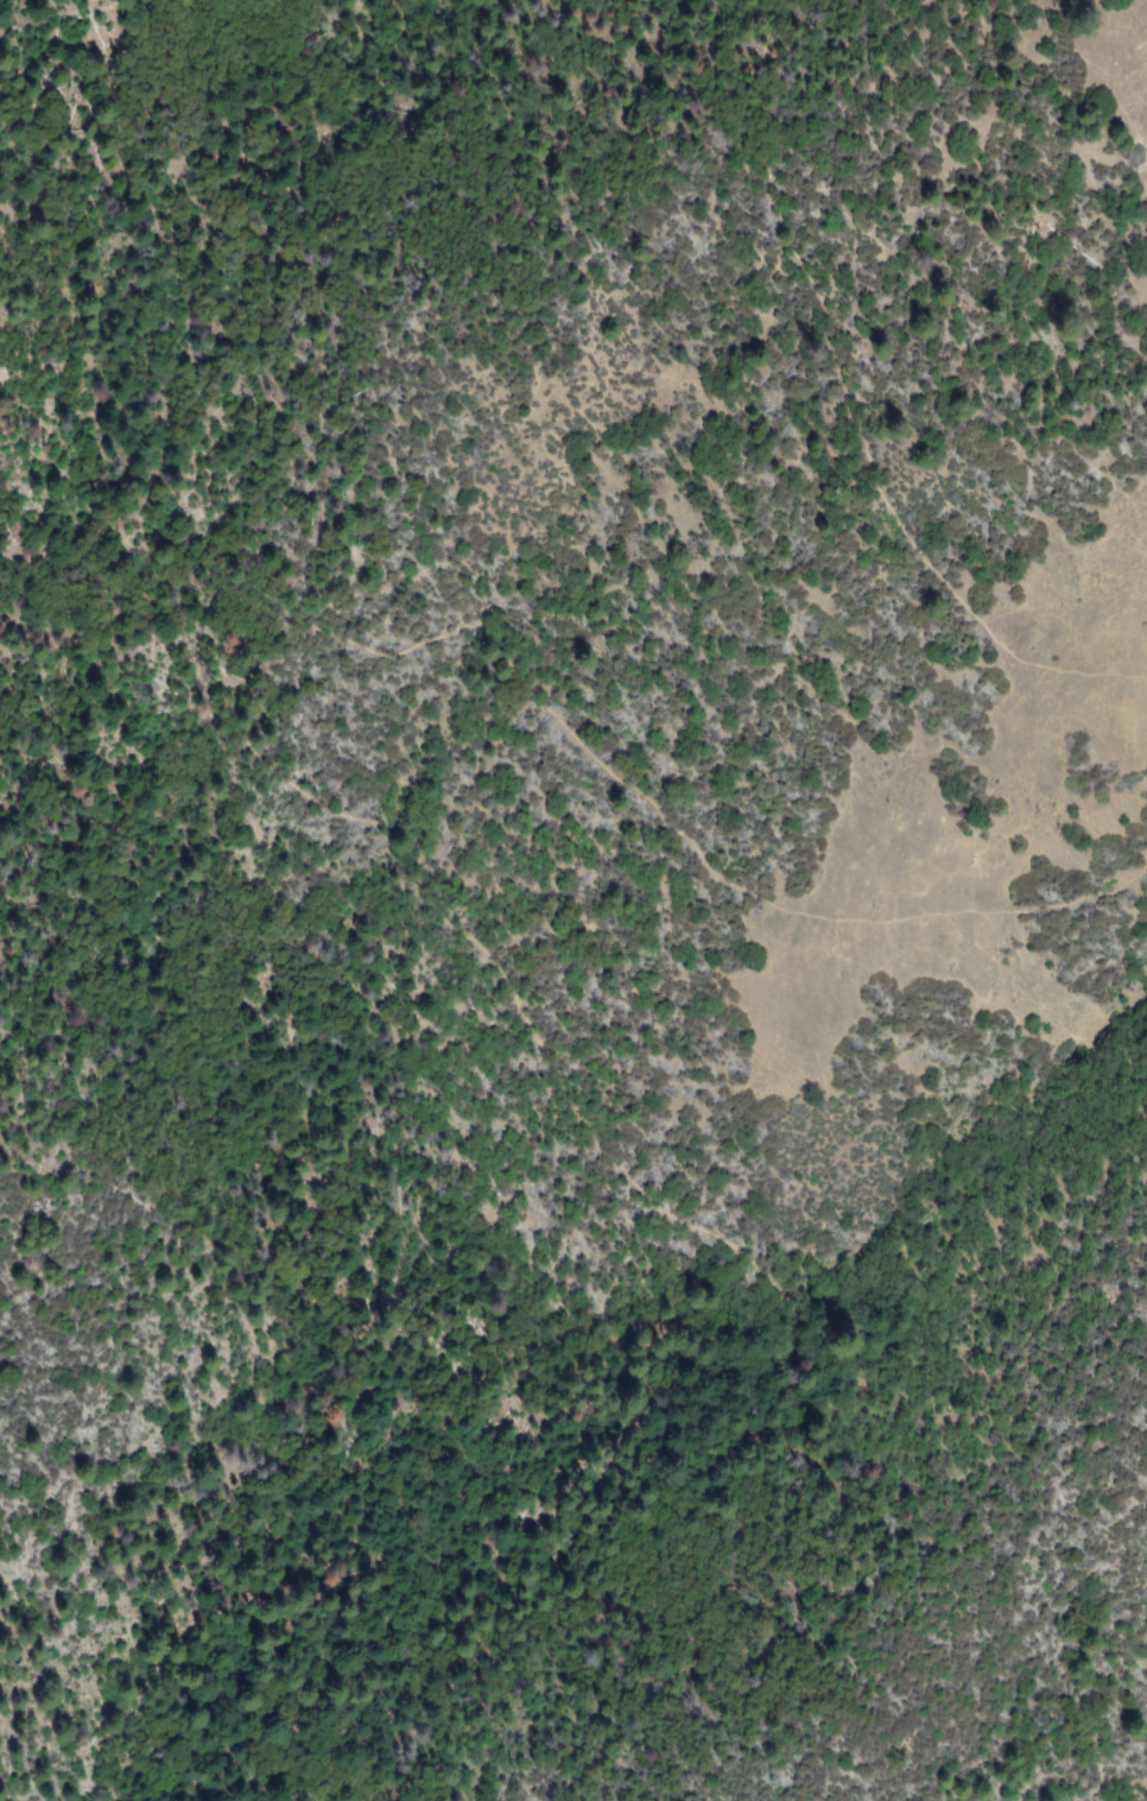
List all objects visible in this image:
road: (980, 192)
road: (856, 412)
road: (391, 841)

